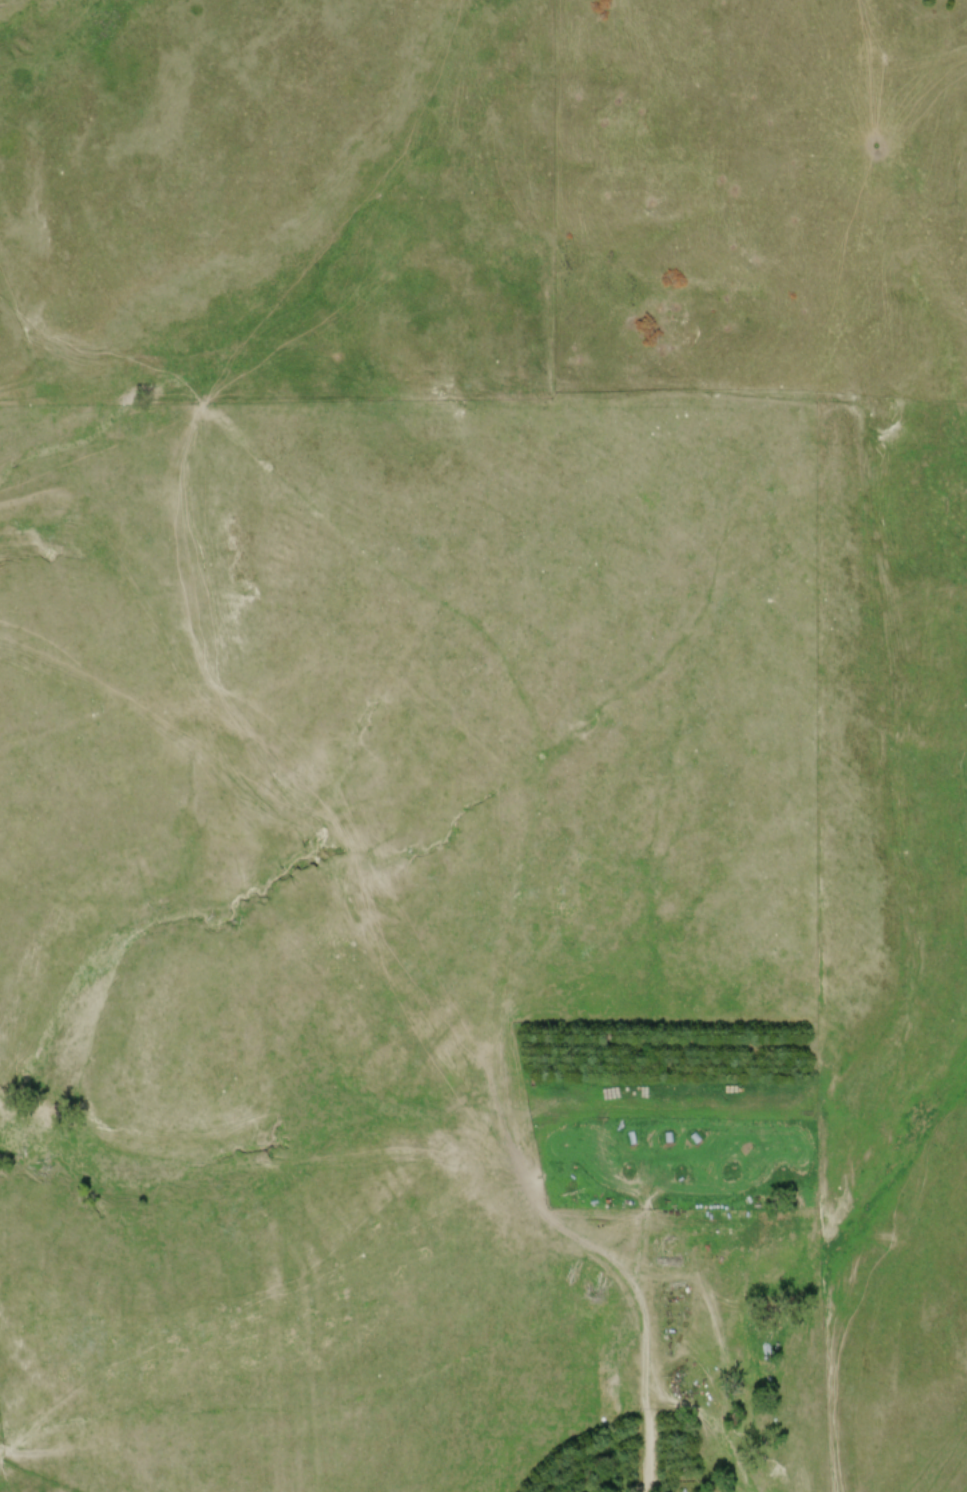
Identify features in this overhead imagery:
road: (634, 1290)

